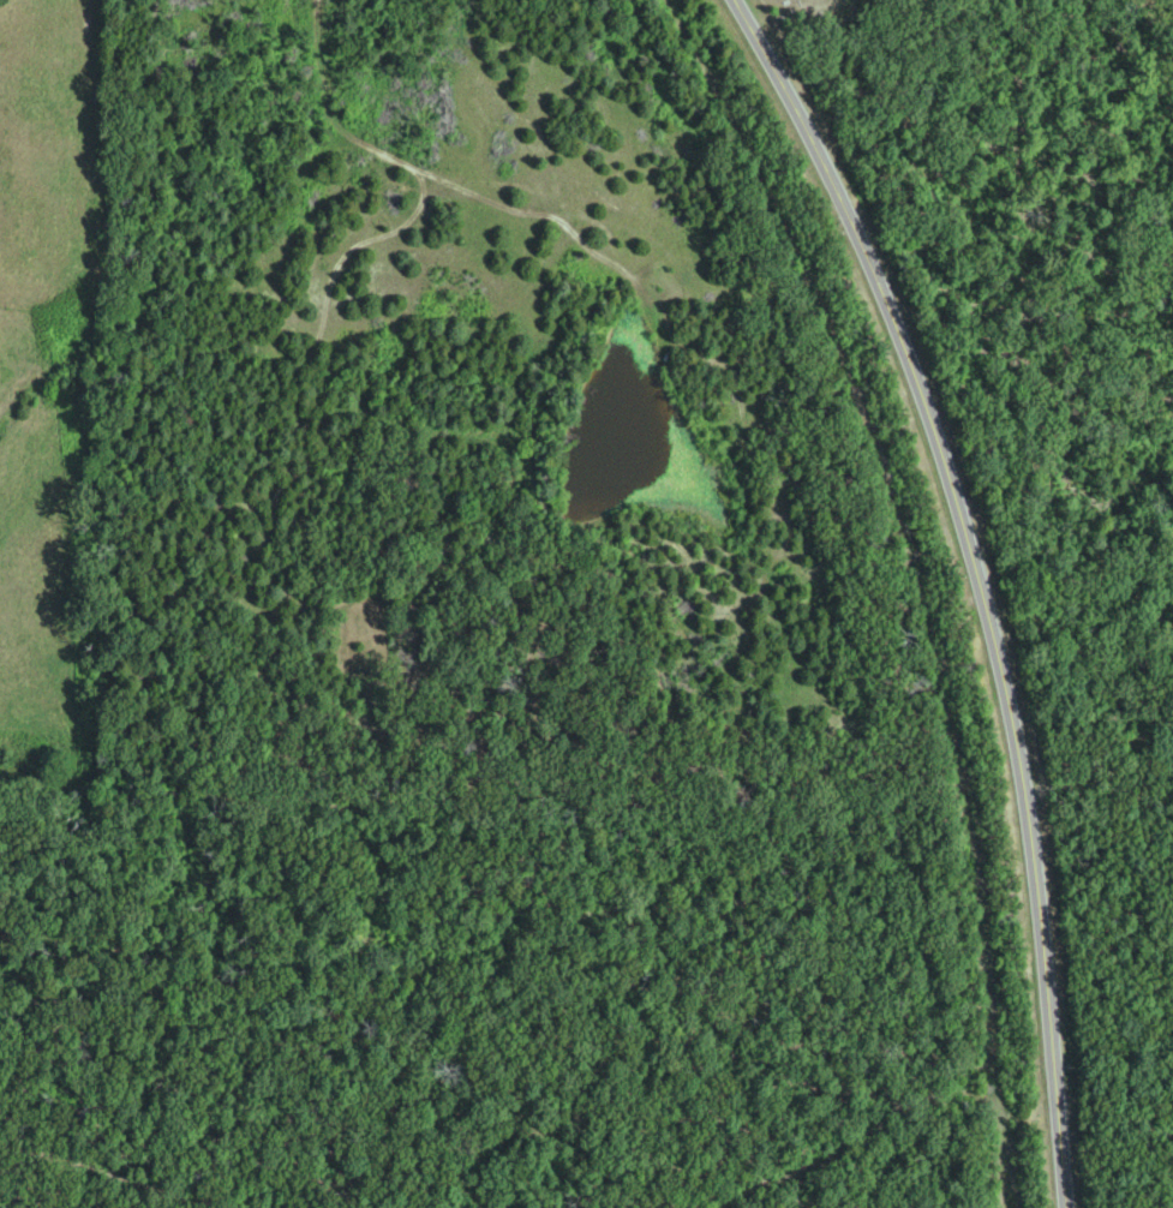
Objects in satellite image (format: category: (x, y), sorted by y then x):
road: (982, 581)

